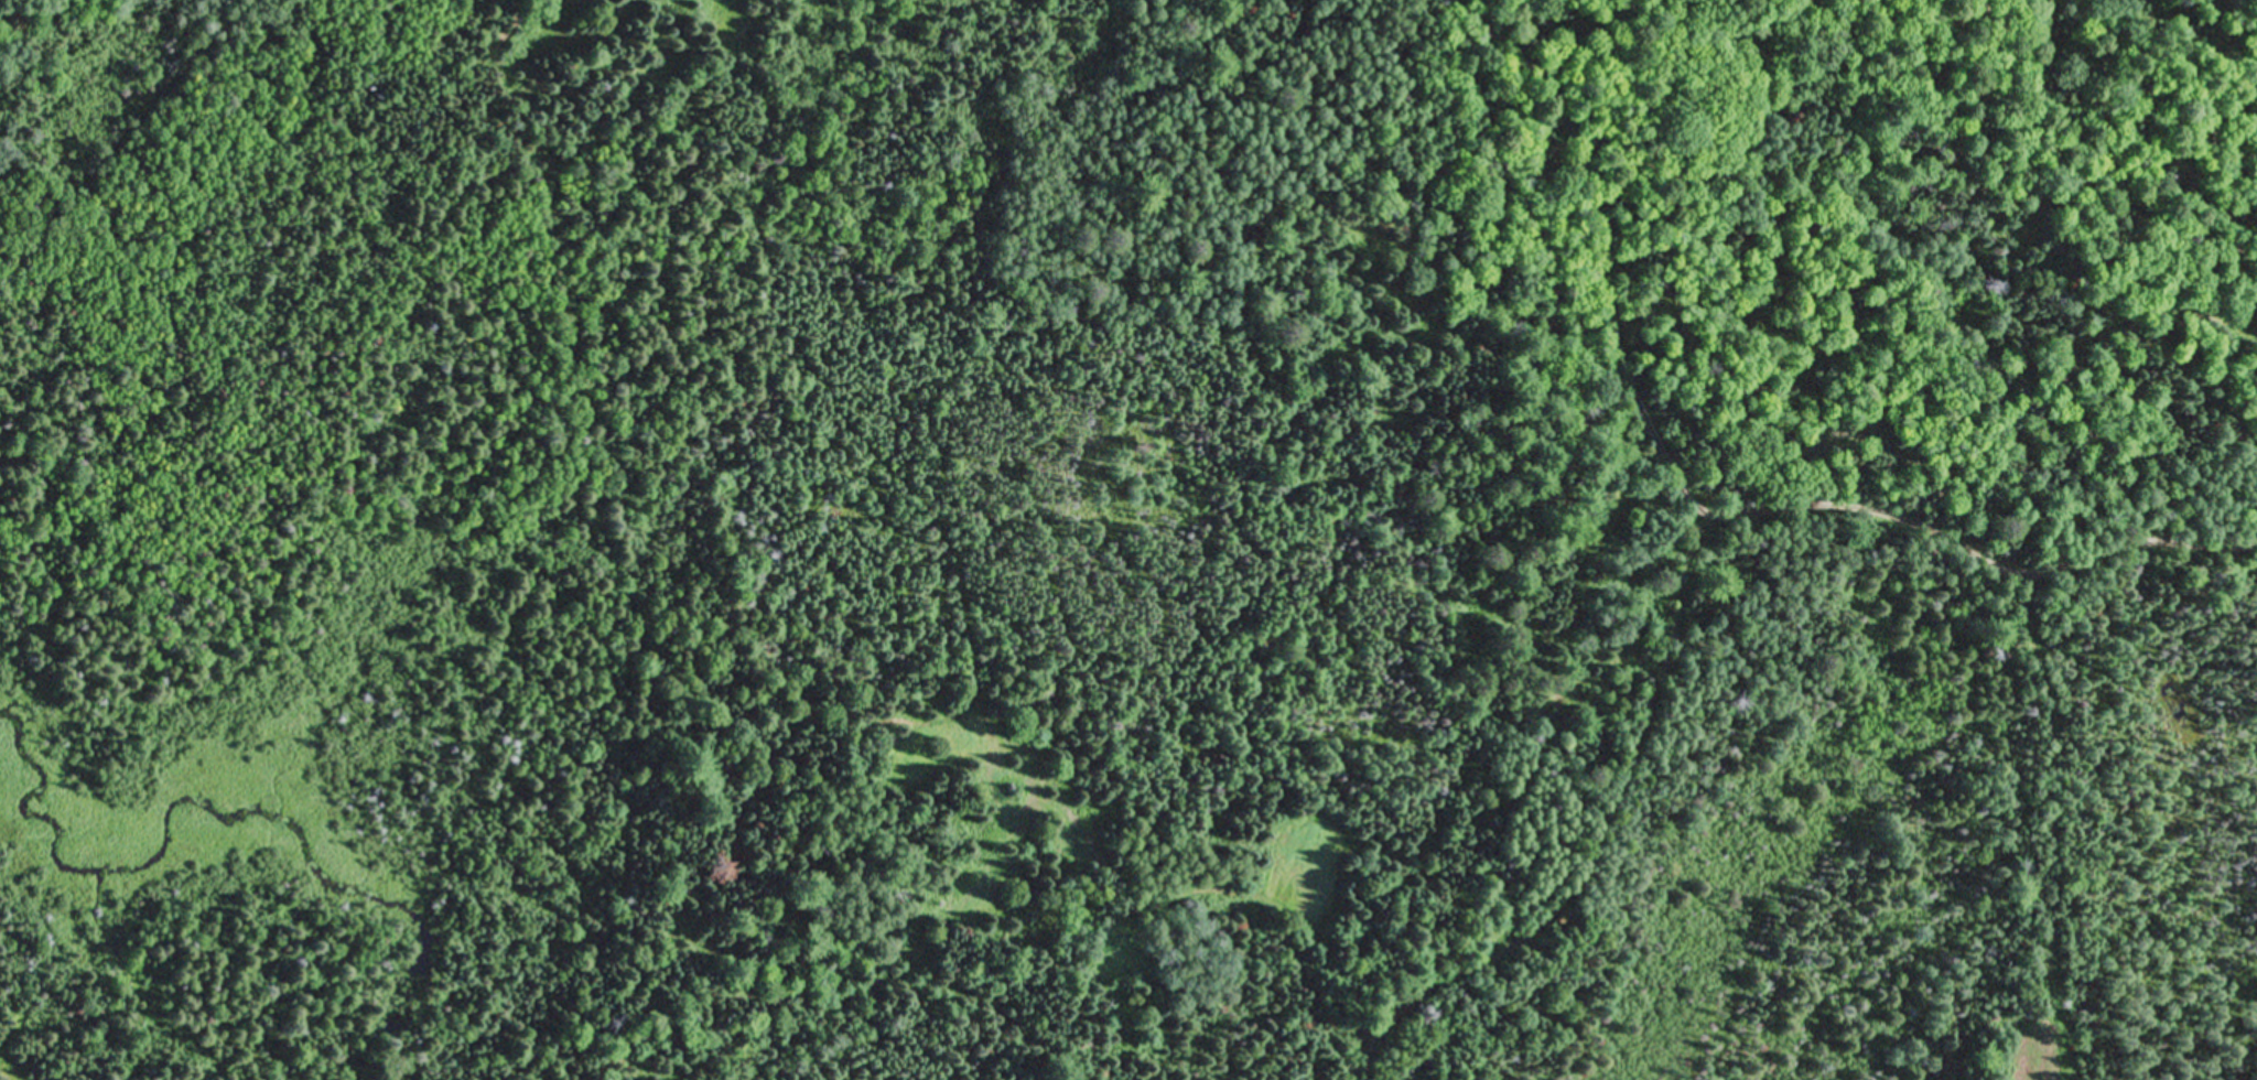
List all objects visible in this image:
road: (1653, 546)

